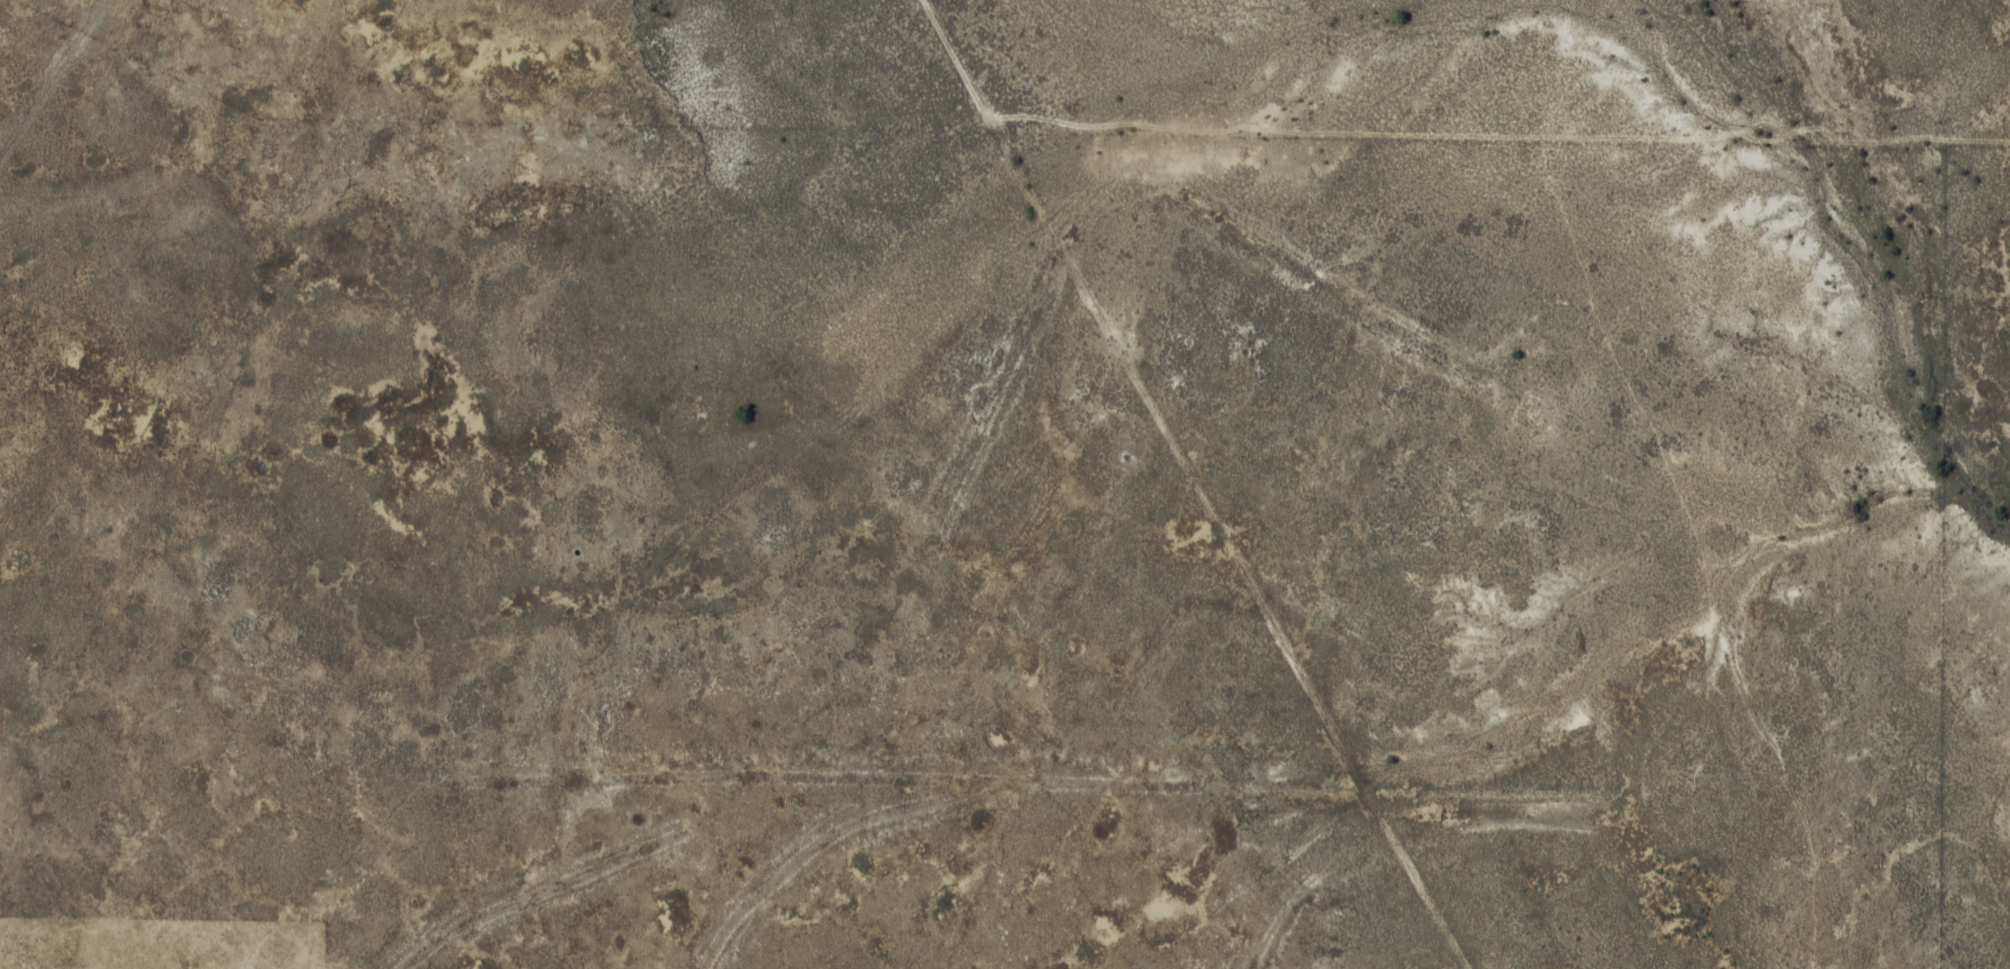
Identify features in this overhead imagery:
road: (1166, 484)

